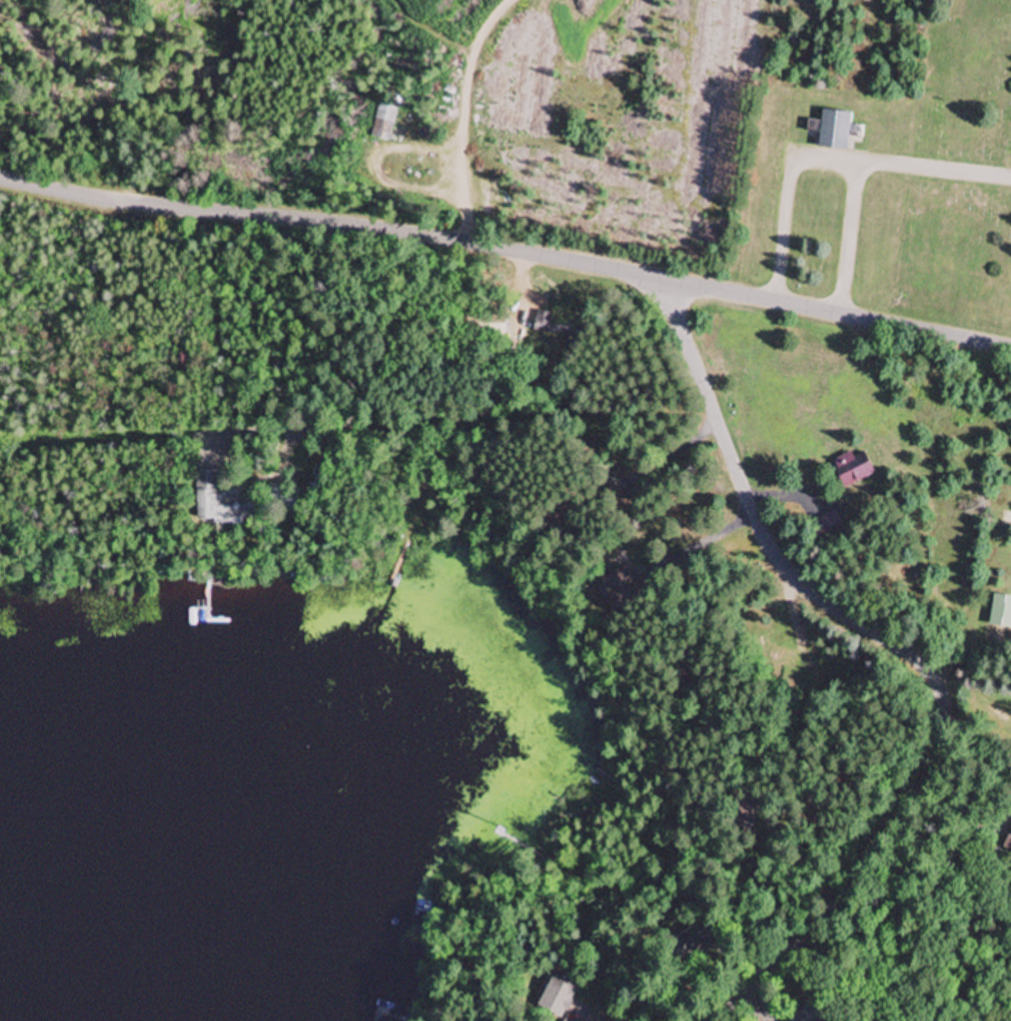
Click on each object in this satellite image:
building: (834, 132)
park: (646, 133)
road: (507, 244)
building: (554, 326)
building: (852, 470)
building: (219, 502)
building: (825, 522)
road: (762, 532)
building: (617, 588)
building: (1001, 611)
road: (976, 729)
building: (1008, 846)
road: (847, 890)
building: (696, 939)
building: (557, 995)
building: (810, 1014)

